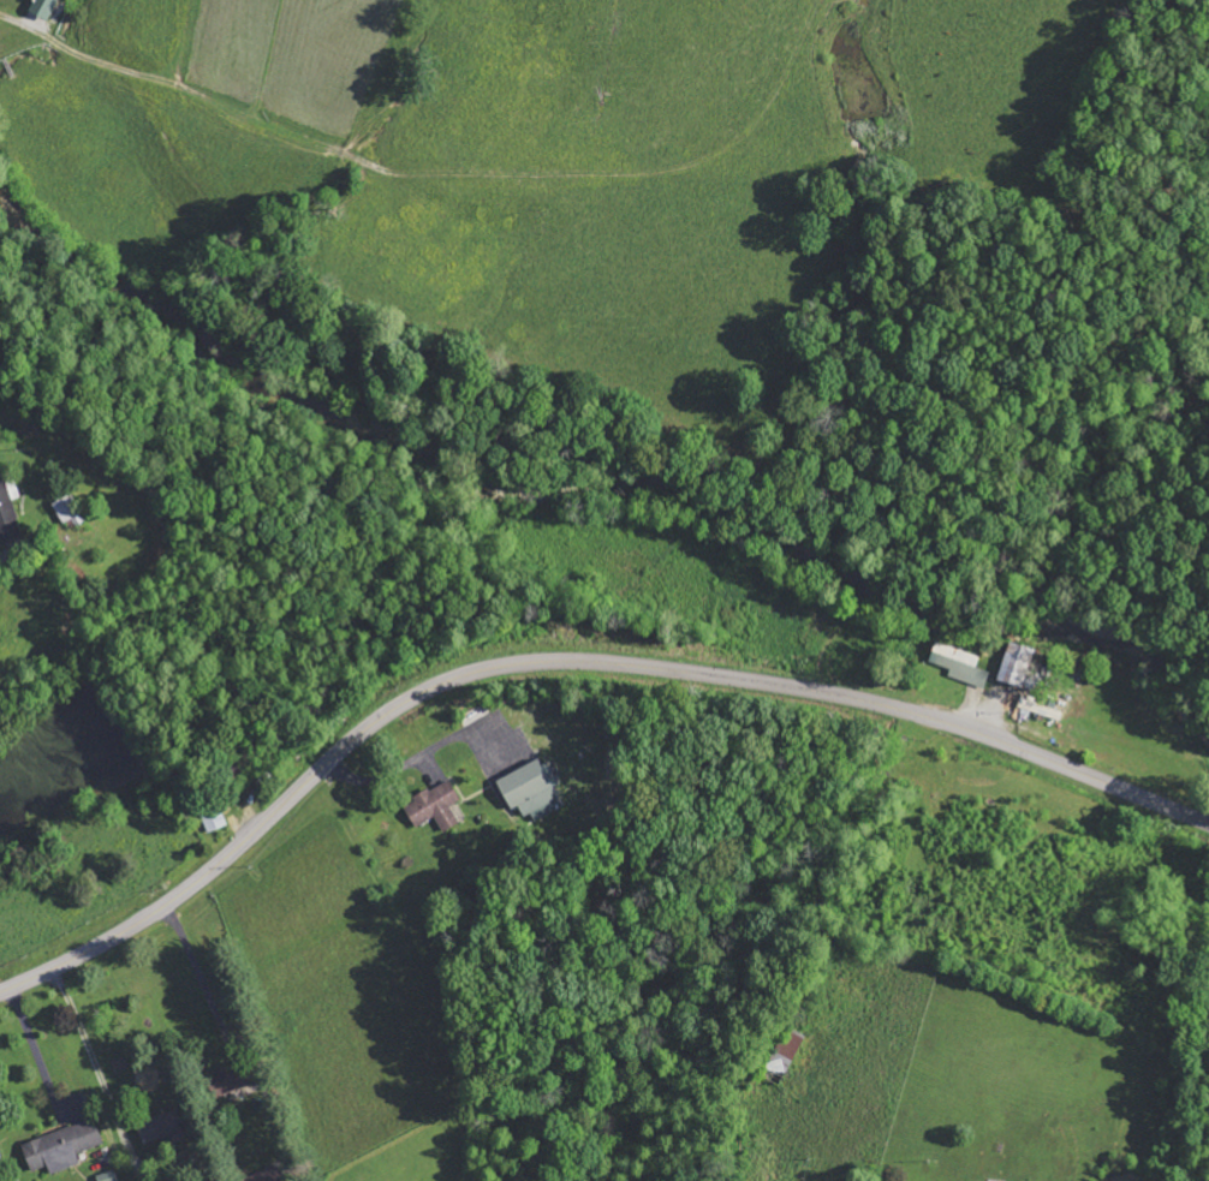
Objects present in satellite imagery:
building: (43, 8)
building: (7, 511)
road: (565, 663)
building: (960, 664)
building: (1017, 664)
building: (531, 791)
building: (435, 806)
building: (215, 819)
building: (785, 1056)
building: (231, 1079)
building: (160, 1127)
building: (62, 1147)
building: (108, 1176)
building: (267, 1176)

